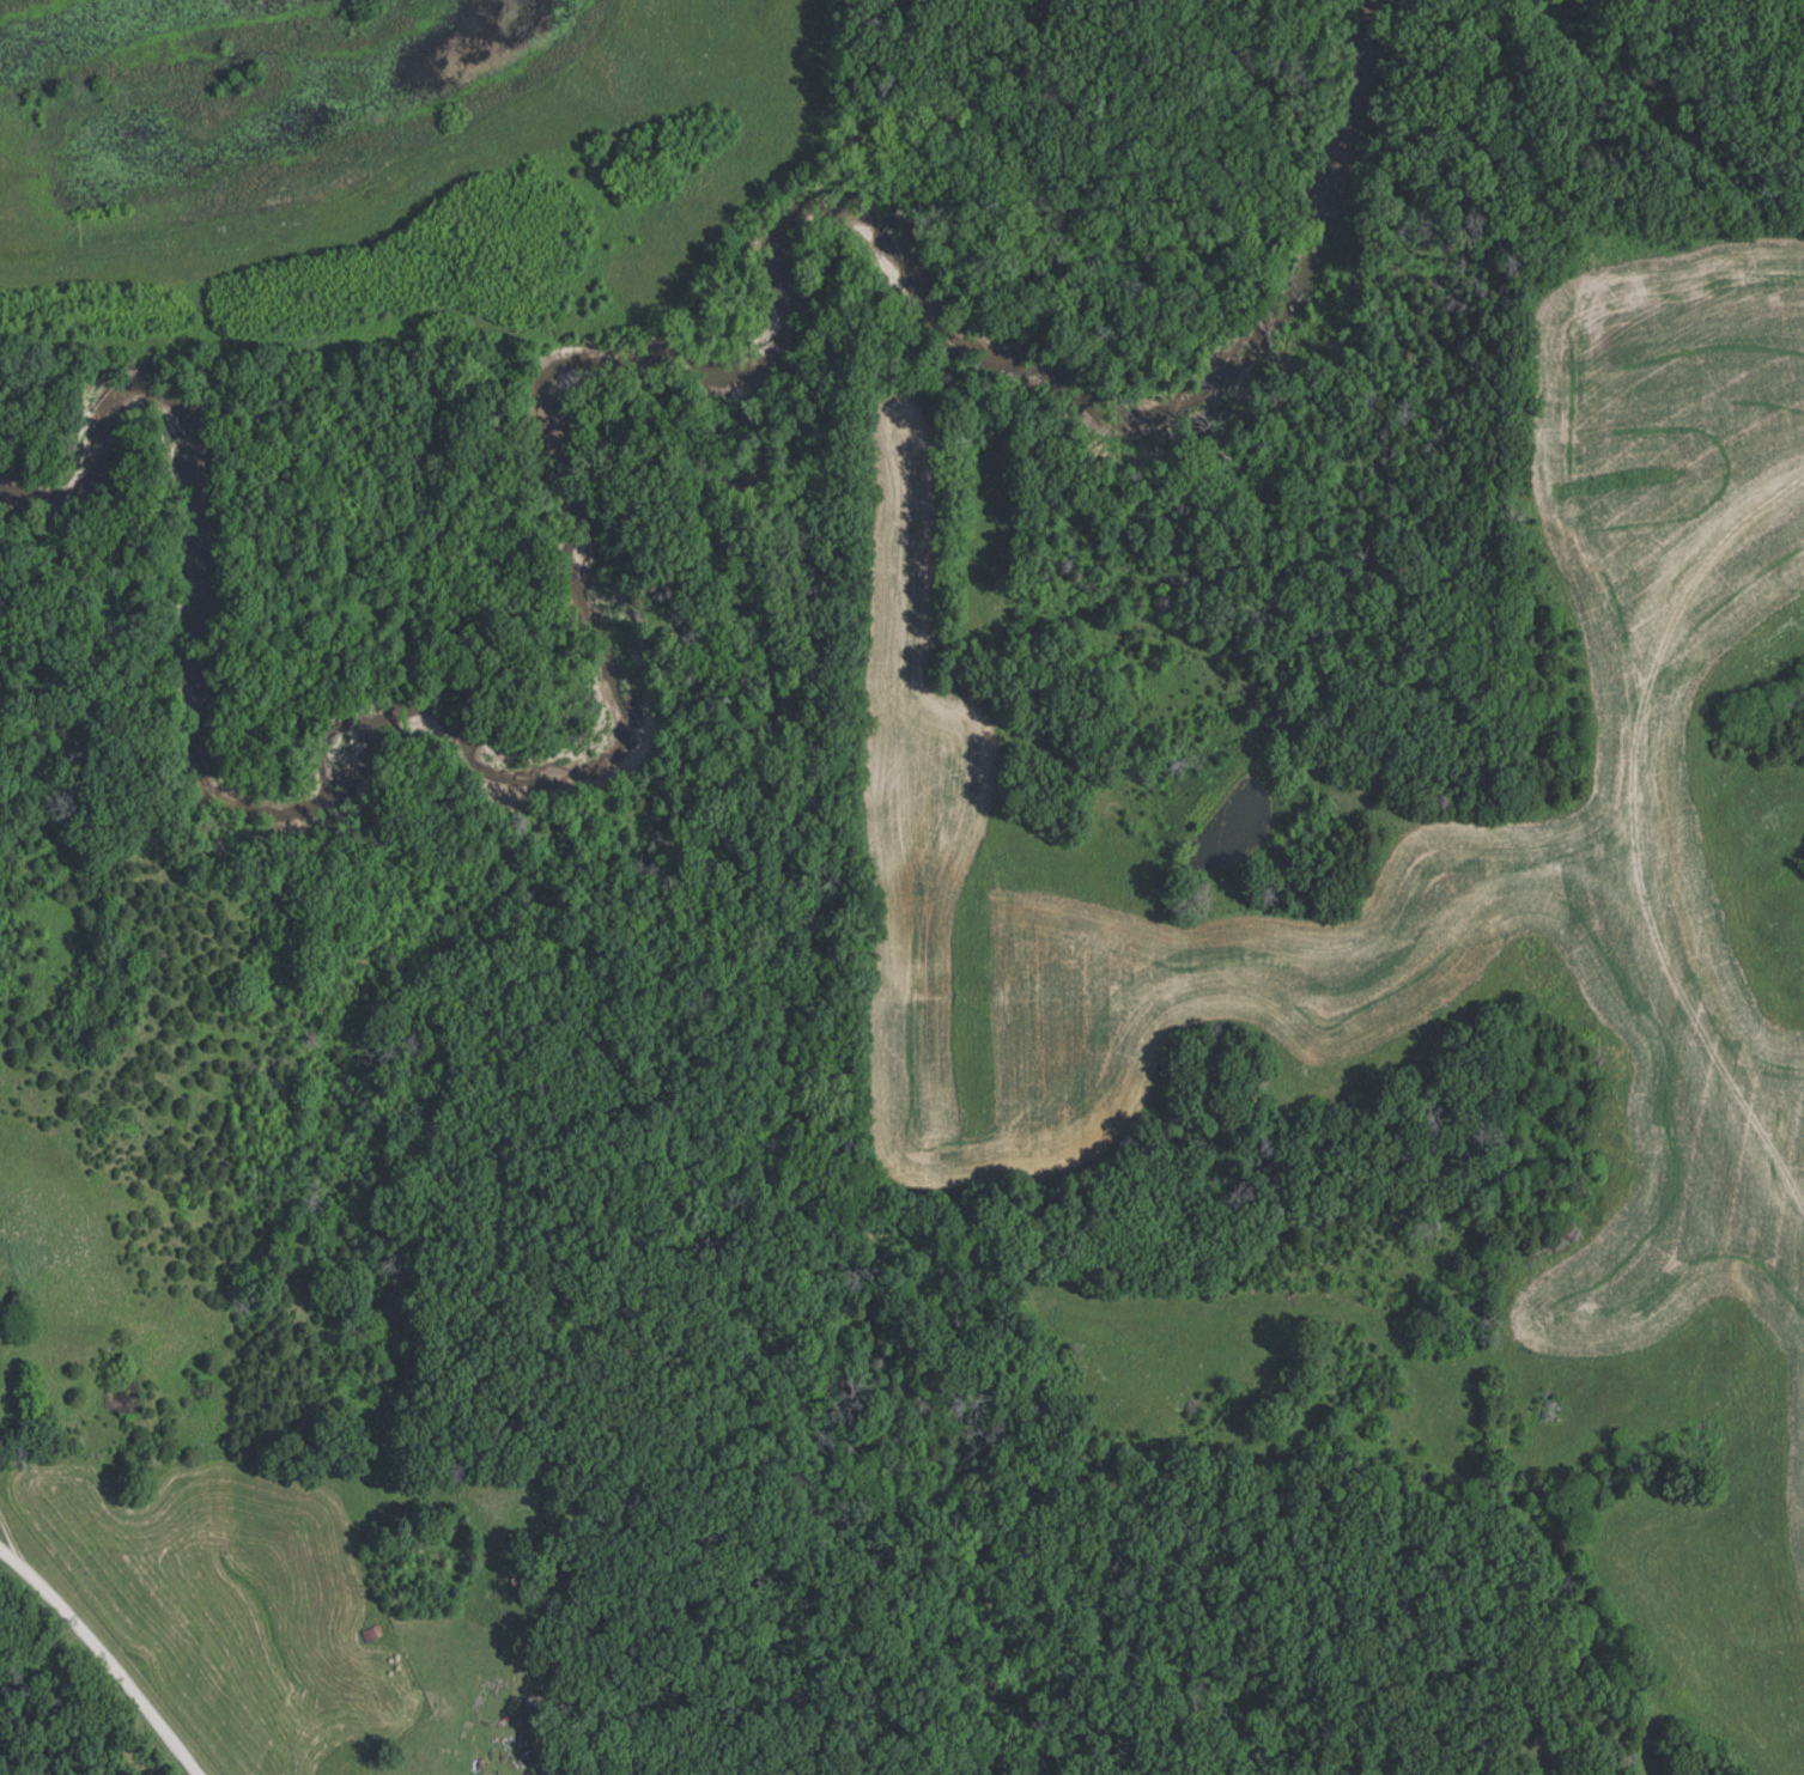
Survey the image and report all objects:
road: (11, 1525)
building: (372, 1634)
road: (108, 1653)

